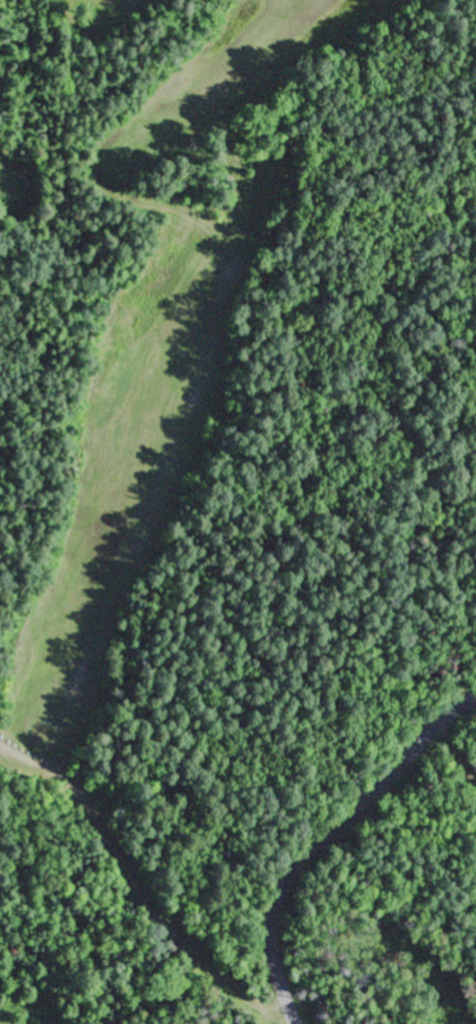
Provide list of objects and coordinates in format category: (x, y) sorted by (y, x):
park: (152, 347)
road: (325, 844)

